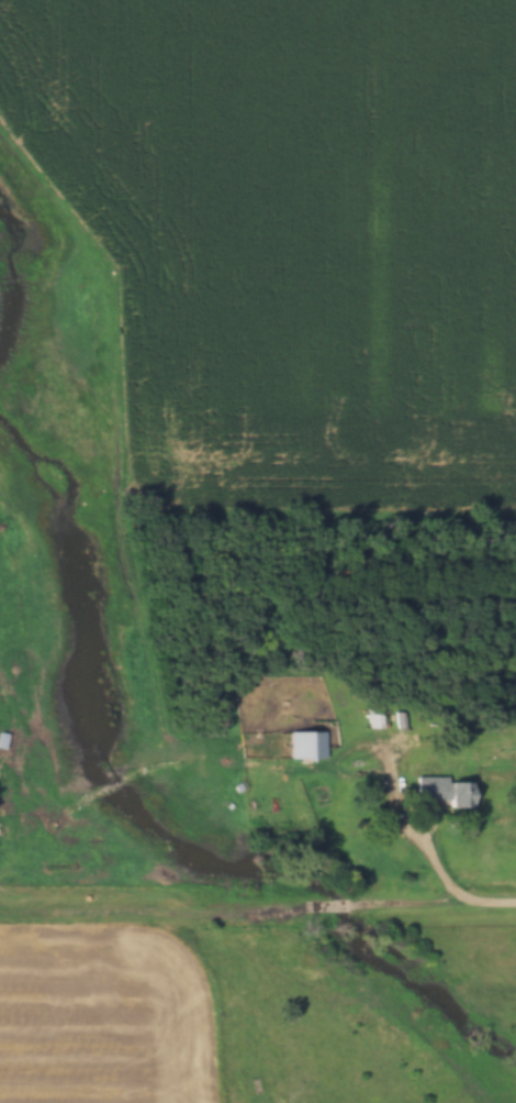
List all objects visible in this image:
building: (306, 746)
building: (441, 792)
road: (258, 911)

